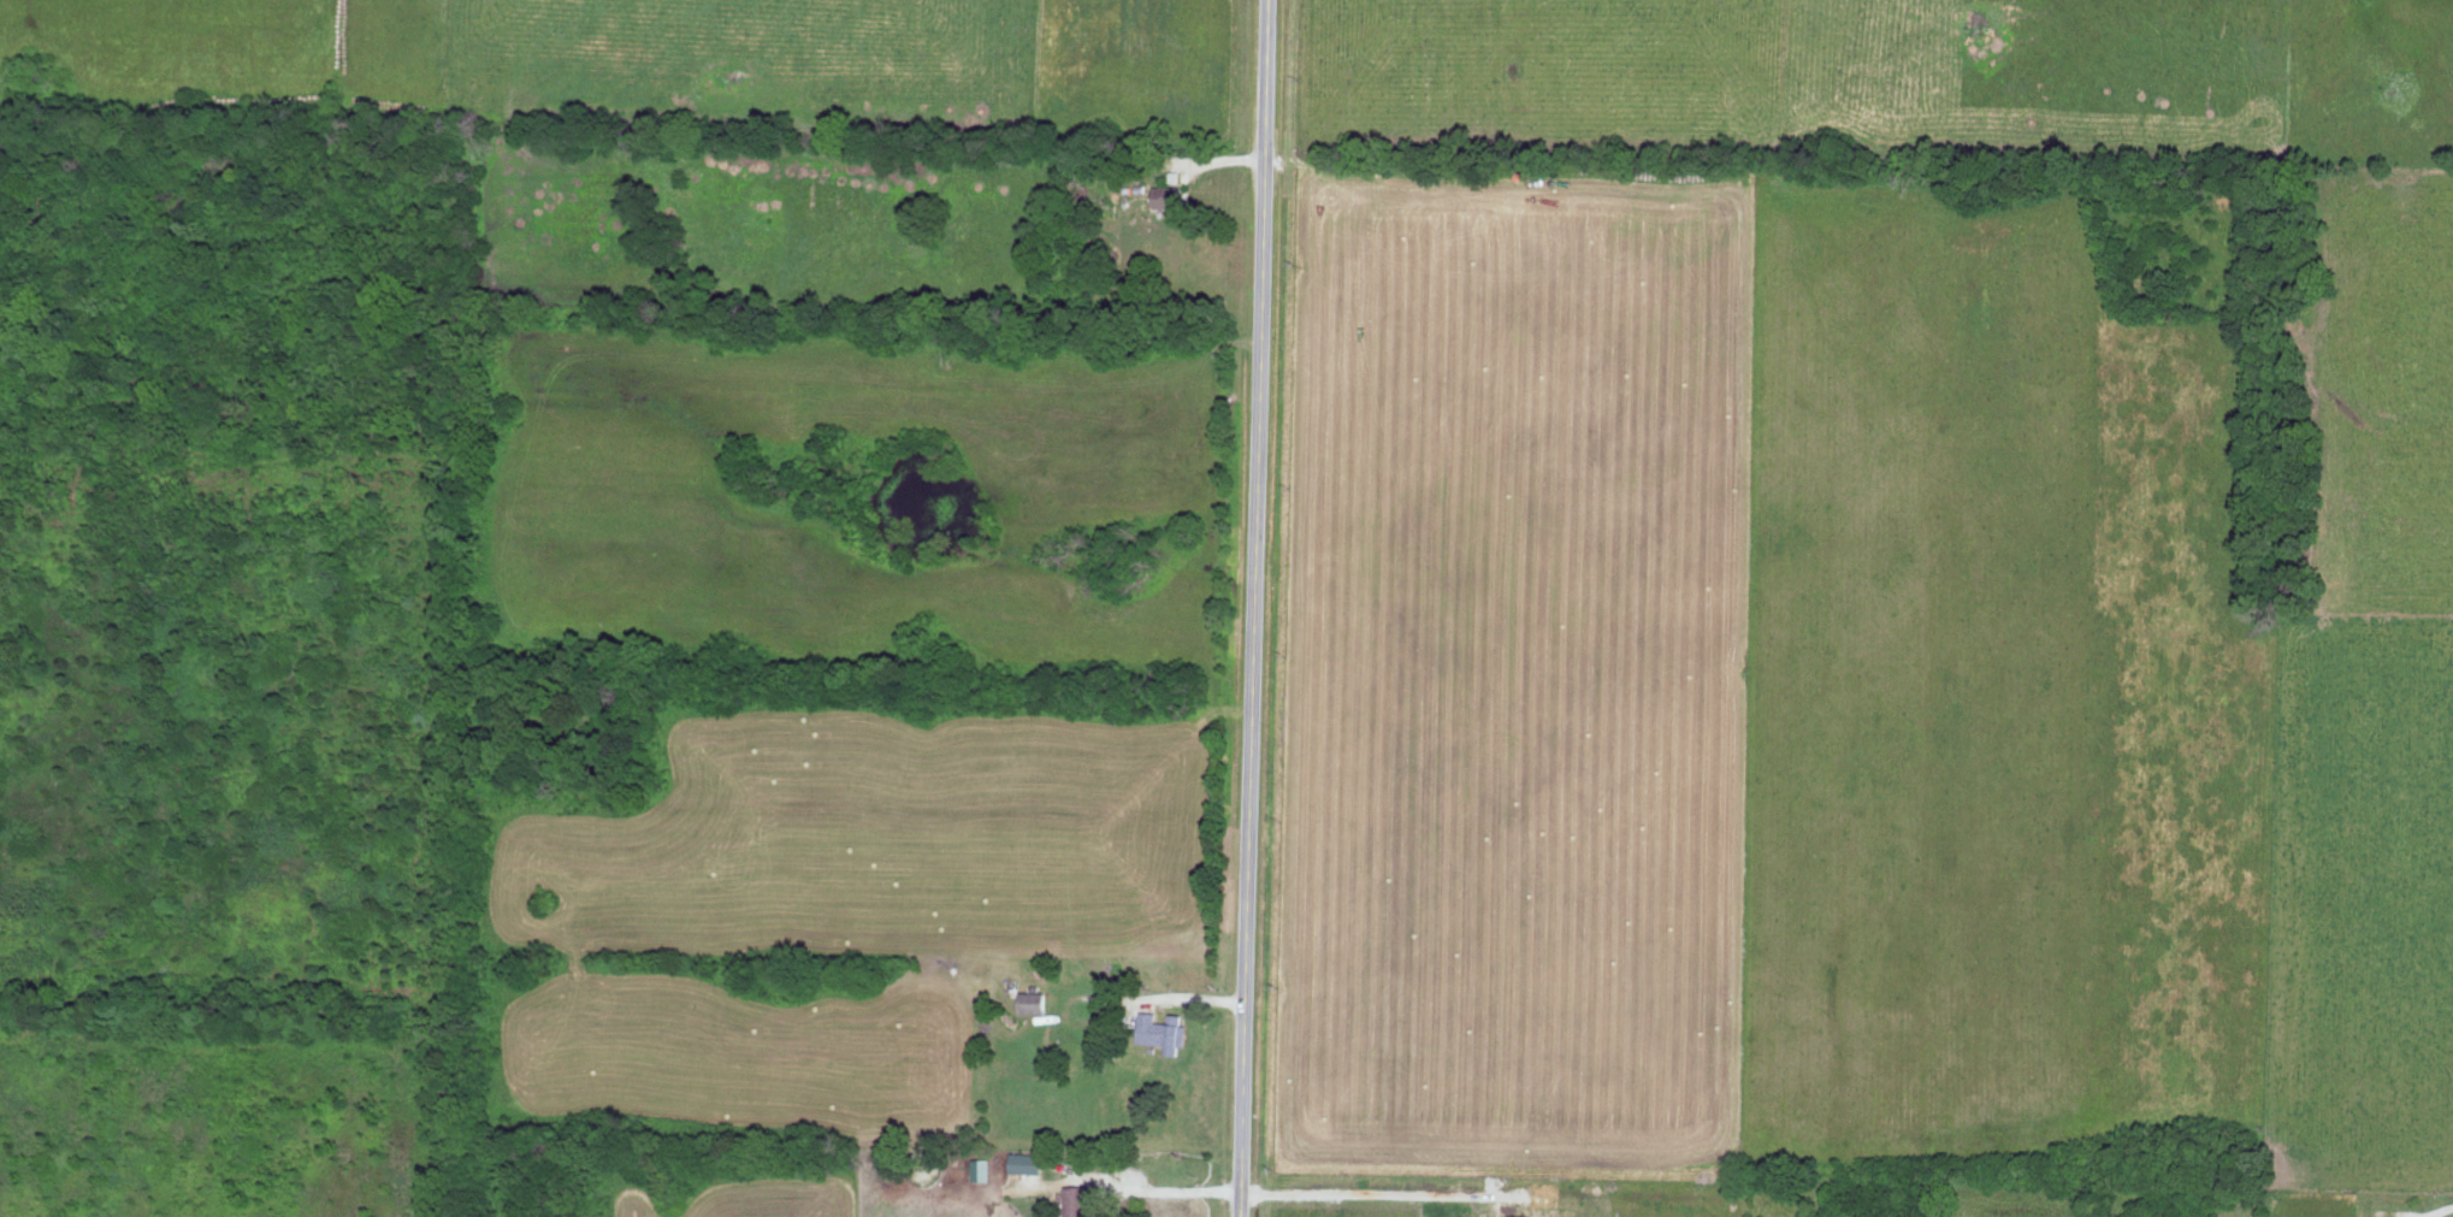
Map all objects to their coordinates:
road: (1223, 164)
building: (1170, 195)
road: (1252, 608)
building: (1036, 1000)
building: (1164, 1029)
building: (1030, 1160)
building: (983, 1168)
road: (1124, 1191)
road: (1382, 1198)
building: (1082, 1201)
road: (2439, 1212)
building: (1519, 1215)

